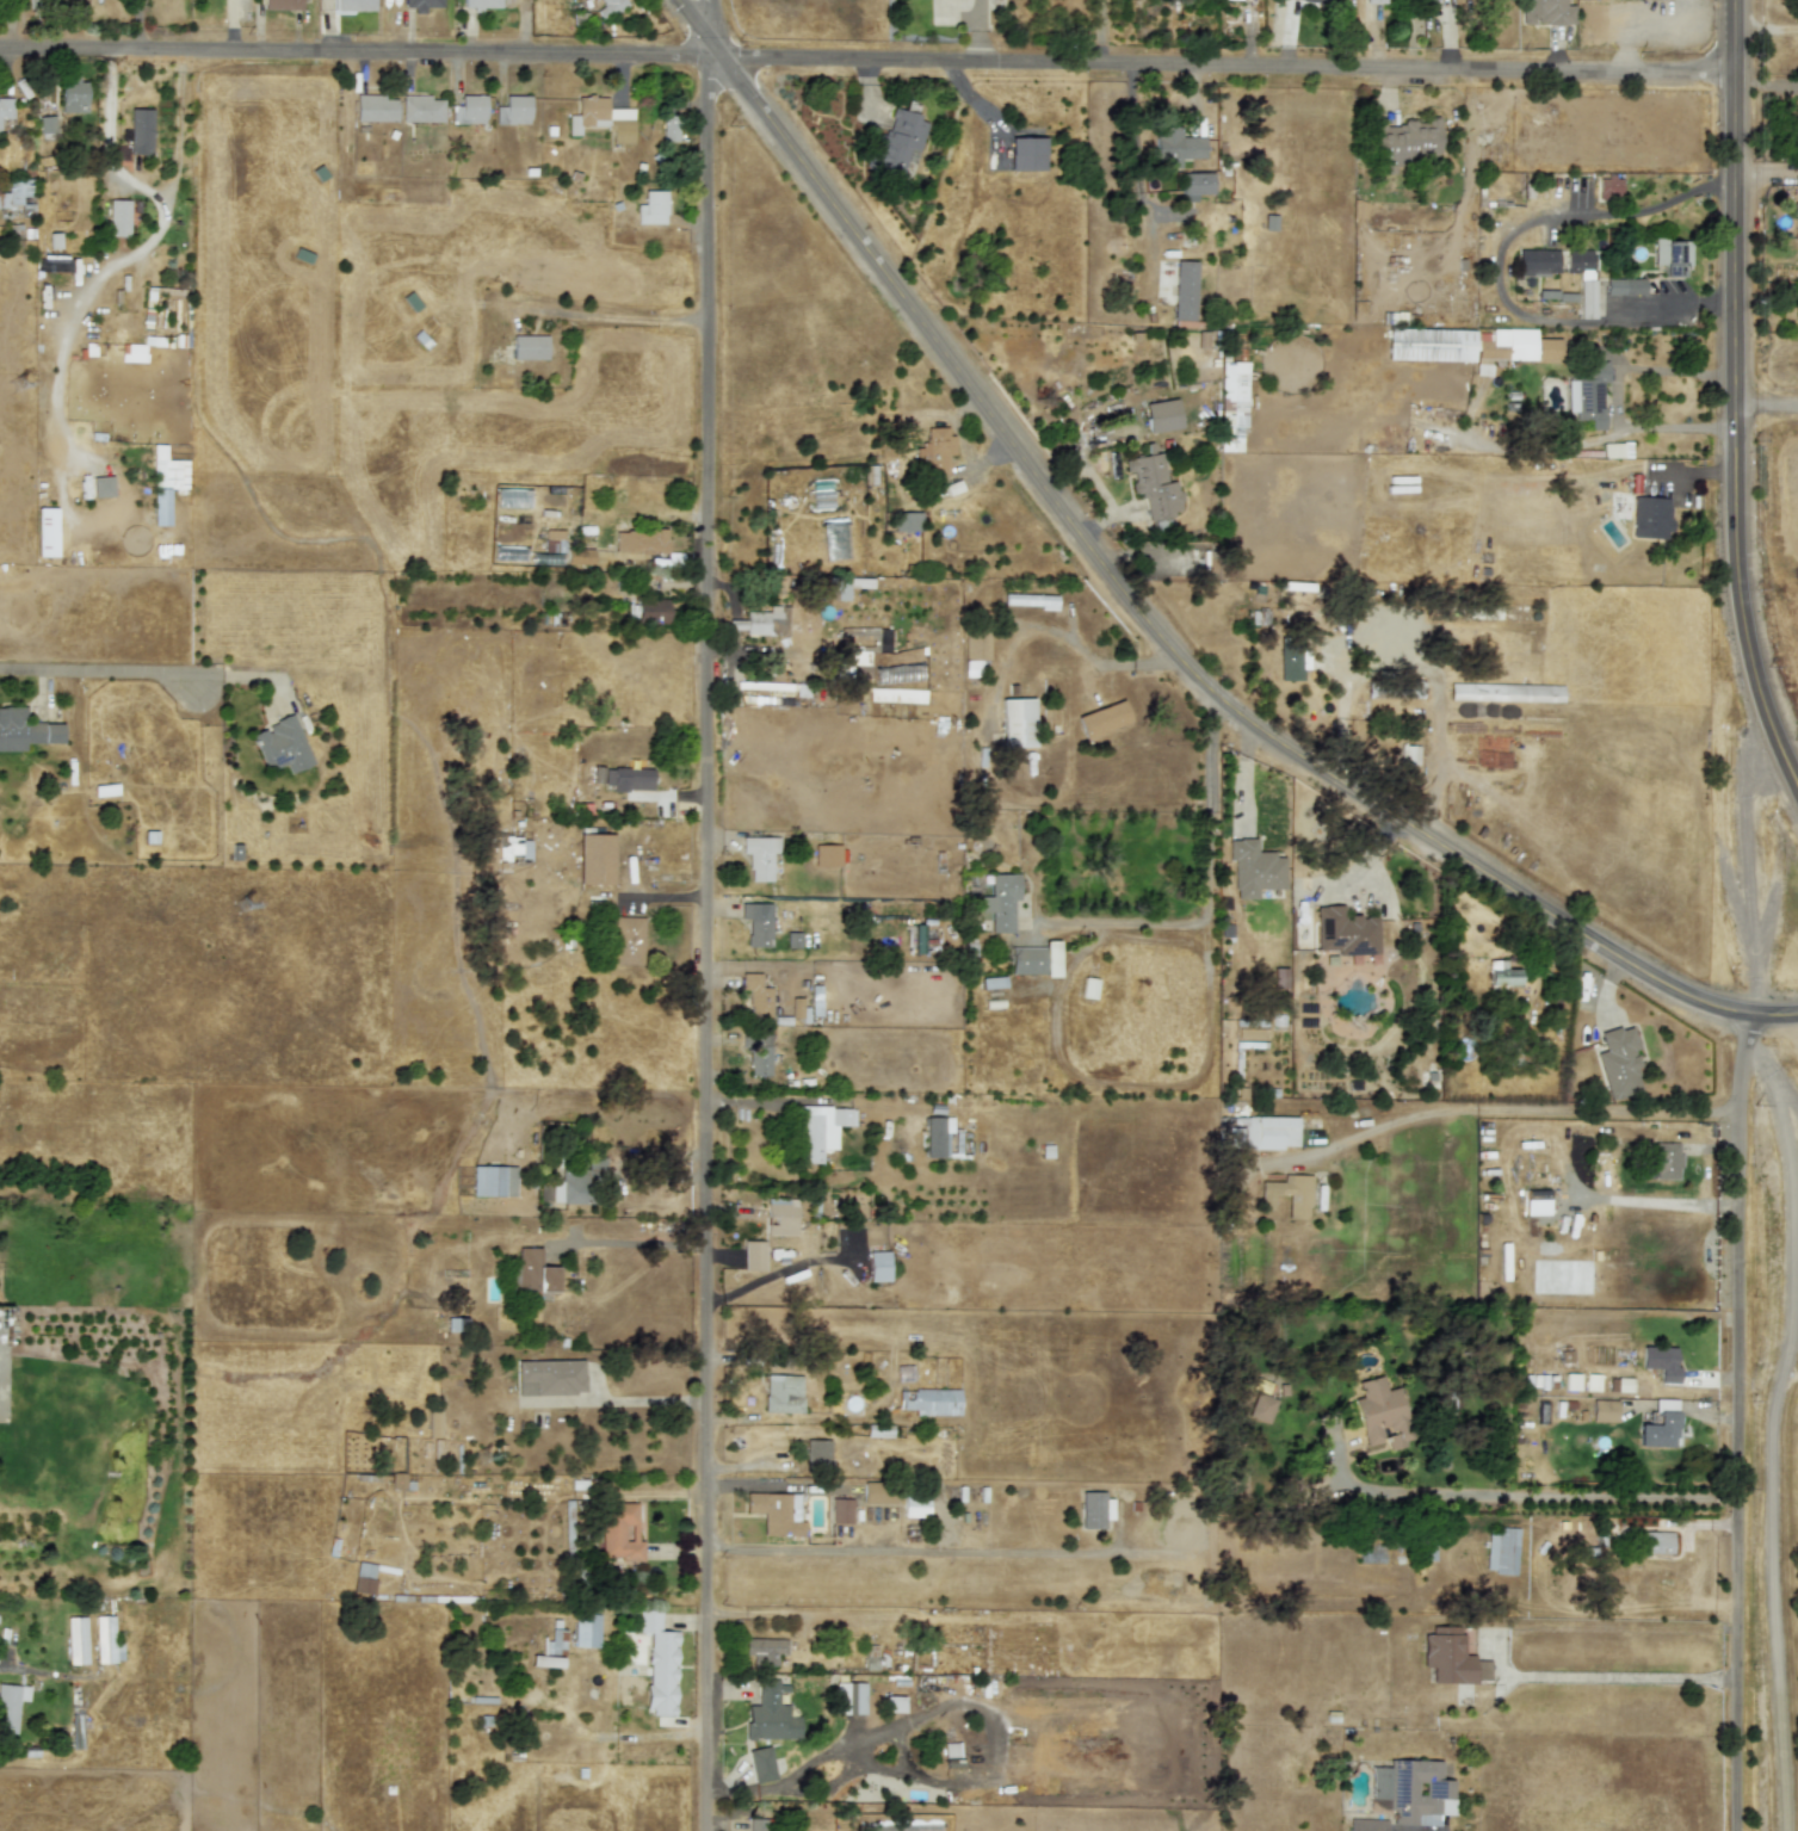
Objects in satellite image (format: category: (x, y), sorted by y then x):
building: (1310, 0)
building: (1373, 1)
building: (481, 4)
building: (282, 5)
building: (353, 5)
building: (421, 5)
building: (610, 7)
building: (1545, 12)
road: (1639, 25)
road: (978, 29)
road: (20, 44)
road: (890, 56)
building: (73, 94)
building: (375, 107)
building: (420, 107)
building: (6, 109)
building: (468, 109)
building: (512, 110)
building: (601, 118)
building: (47, 125)
building: (669, 128)
building: (140, 130)
building: (0, 134)
road: (109, 140)
building: (900, 140)
building: (1403, 142)
building: (1175, 147)
building: (1026, 153)
road: (1139, 171)
road: (1768, 172)
building: (1195, 183)
building: (1608, 186)
building: (16, 191)
building: (1796, 202)
building: (651, 206)
building: (118, 217)
road: (165, 219)
building: (1269, 222)
building: (1672, 255)
building: (1538, 261)
road: (1496, 265)
building: (1582, 277)
building: (1624, 286)
building: (1184, 290)
building: (1429, 344)
building: (1525, 344)
building: (529, 345)
building: (132, 352)
power tower: (17, 386)
building: (1587, 396)
road: (1617, 396)
road: (1734, 398)
building: (1231, 404)
road: (1766, 407)
building: (1161, 414)
building: (1615, 450)
building: (933, 451)
building: (165, 482)
building: (1153, 484)
building: (101, 485)
building: (1650, 516)
building: (907, 520)
building: (641, 540)
building: (579, 555)
building: (1028, 599)
building: (651, 611)
building: (1482, 611)
road: (1144, 618)
building: (762, 621)
building: (974, 649)
building: (1291, 660)
road: (80, 667)
building: (1398, 688)
building: (1504, 692)
building: (1101, 718)
building: (1017, 722)
building: (24, 730)
building: (282, 744)
building: (623, 778)
road: (1749, 825)
building: (513, 847)
building: (826, 854)
building: (759, 855)
building: (594, 858)
building: (1253, 867)
road: (1210, 889)
building: (999, 901)
road: (706, 915)
building: (755, 924)
power tower: (252, 927)
building: (1346, 932)
building: (915, 938)
building: (792, 939)
building: (628, 940)
building: (1034, 959)
building: (1500, 973)
building: (1279, 977)
building: (991, 982)
building: (1088, 988)
road: (1207, 994)
building: (755, 997)
building: (796, 1007)
road: (1056, 1015)
building: (758, 1054)
building: (1618, 1062)
road: (1504, 1109)
building: (820, 1128)
building: (1263, 1132)
building: (937, 1137)
building: (1662, 1159)
building: (493, 1180)
building: (577, 1181)
building: (1287, 1194)
building: (1536, 1201)
building: (780, 1213)
road: (624, 1241)
building: (753, 1255)
building: (878, 1266)
building: (532, 1272)
building: (456, 1324)
building: (1660, 1361)
building: (549, 1377)
building: (1631, 1385)
building: (783, 1393)
building: (929, 1400)
building: (1261, 1406)
building: (1604, 1410)
building: (1380, 1412)
road: (1735, 1419)
building: (433, 1422)
building: (1660, 1425)
road: (1766, 1429)
building: (878, 1430)
building: (816, 1449)
power tower: (483, 1456)
building: (396, 1480)
building: (1289, 1489)
building: (877, 1492)
road: (1544, 1497)
building: (915, 1504)
building: (840, 1509)
building: (1094, 1509)
building: (776, 1513)
building: (568, 1528)
building: (619, 1530)
building: (1656, 1541)
road: (944, 1548)
building: (1501, 1549)
building: (364, 1577)
building: (586, 1629)
building: (109, 1634)
building: (75, 1640)
building: (764, 1650)
building: (1451, 1657)
building: (545, 1659)
building: (659, 1663)
road: (7, 1668)
road: (1613, 1674)
building: (849, 1697)
building: (894, 1703)
building: (10, 1705)
road: (944, 1705)
building: (770, 1713)
building: (75, 1727)
building: (950, 1749)
building: (760, 1764)
building: (1411, 1790)
building: (756, 1824)
building: (1366, 1824)

